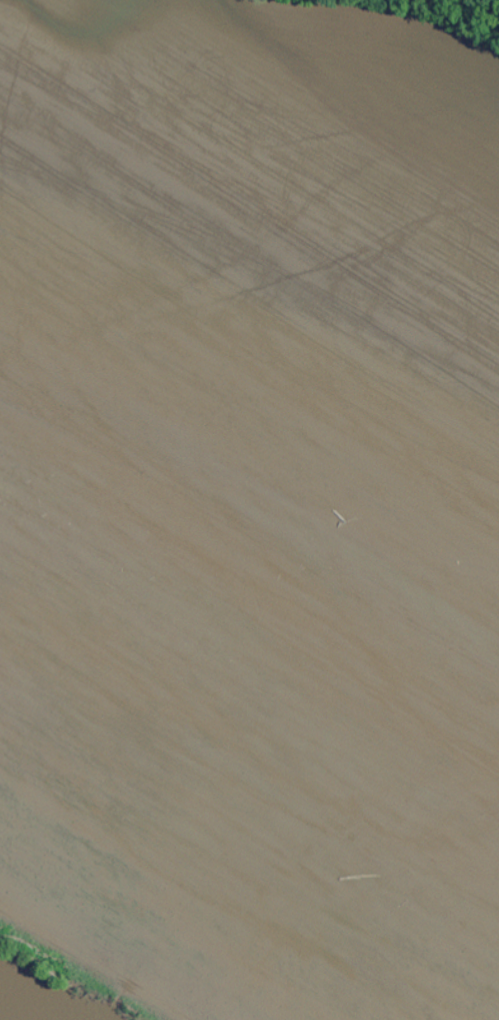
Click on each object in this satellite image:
road: (245, 867)

